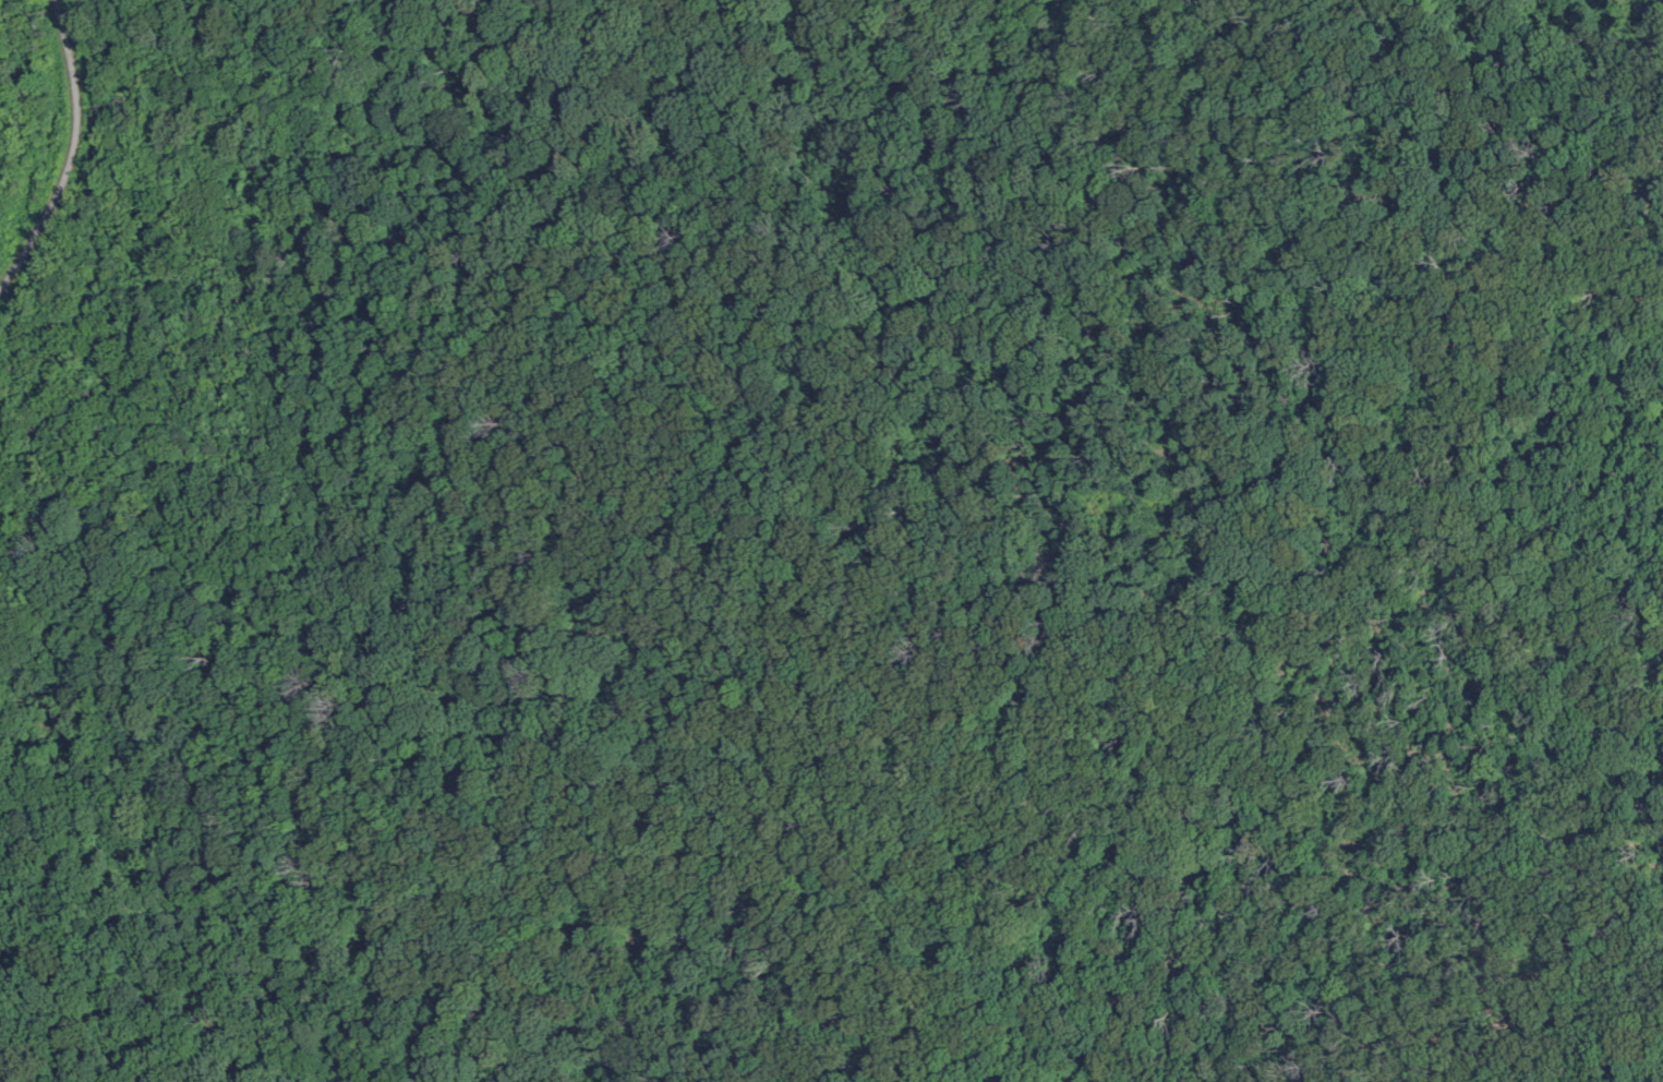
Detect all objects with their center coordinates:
road: (74, 158)

